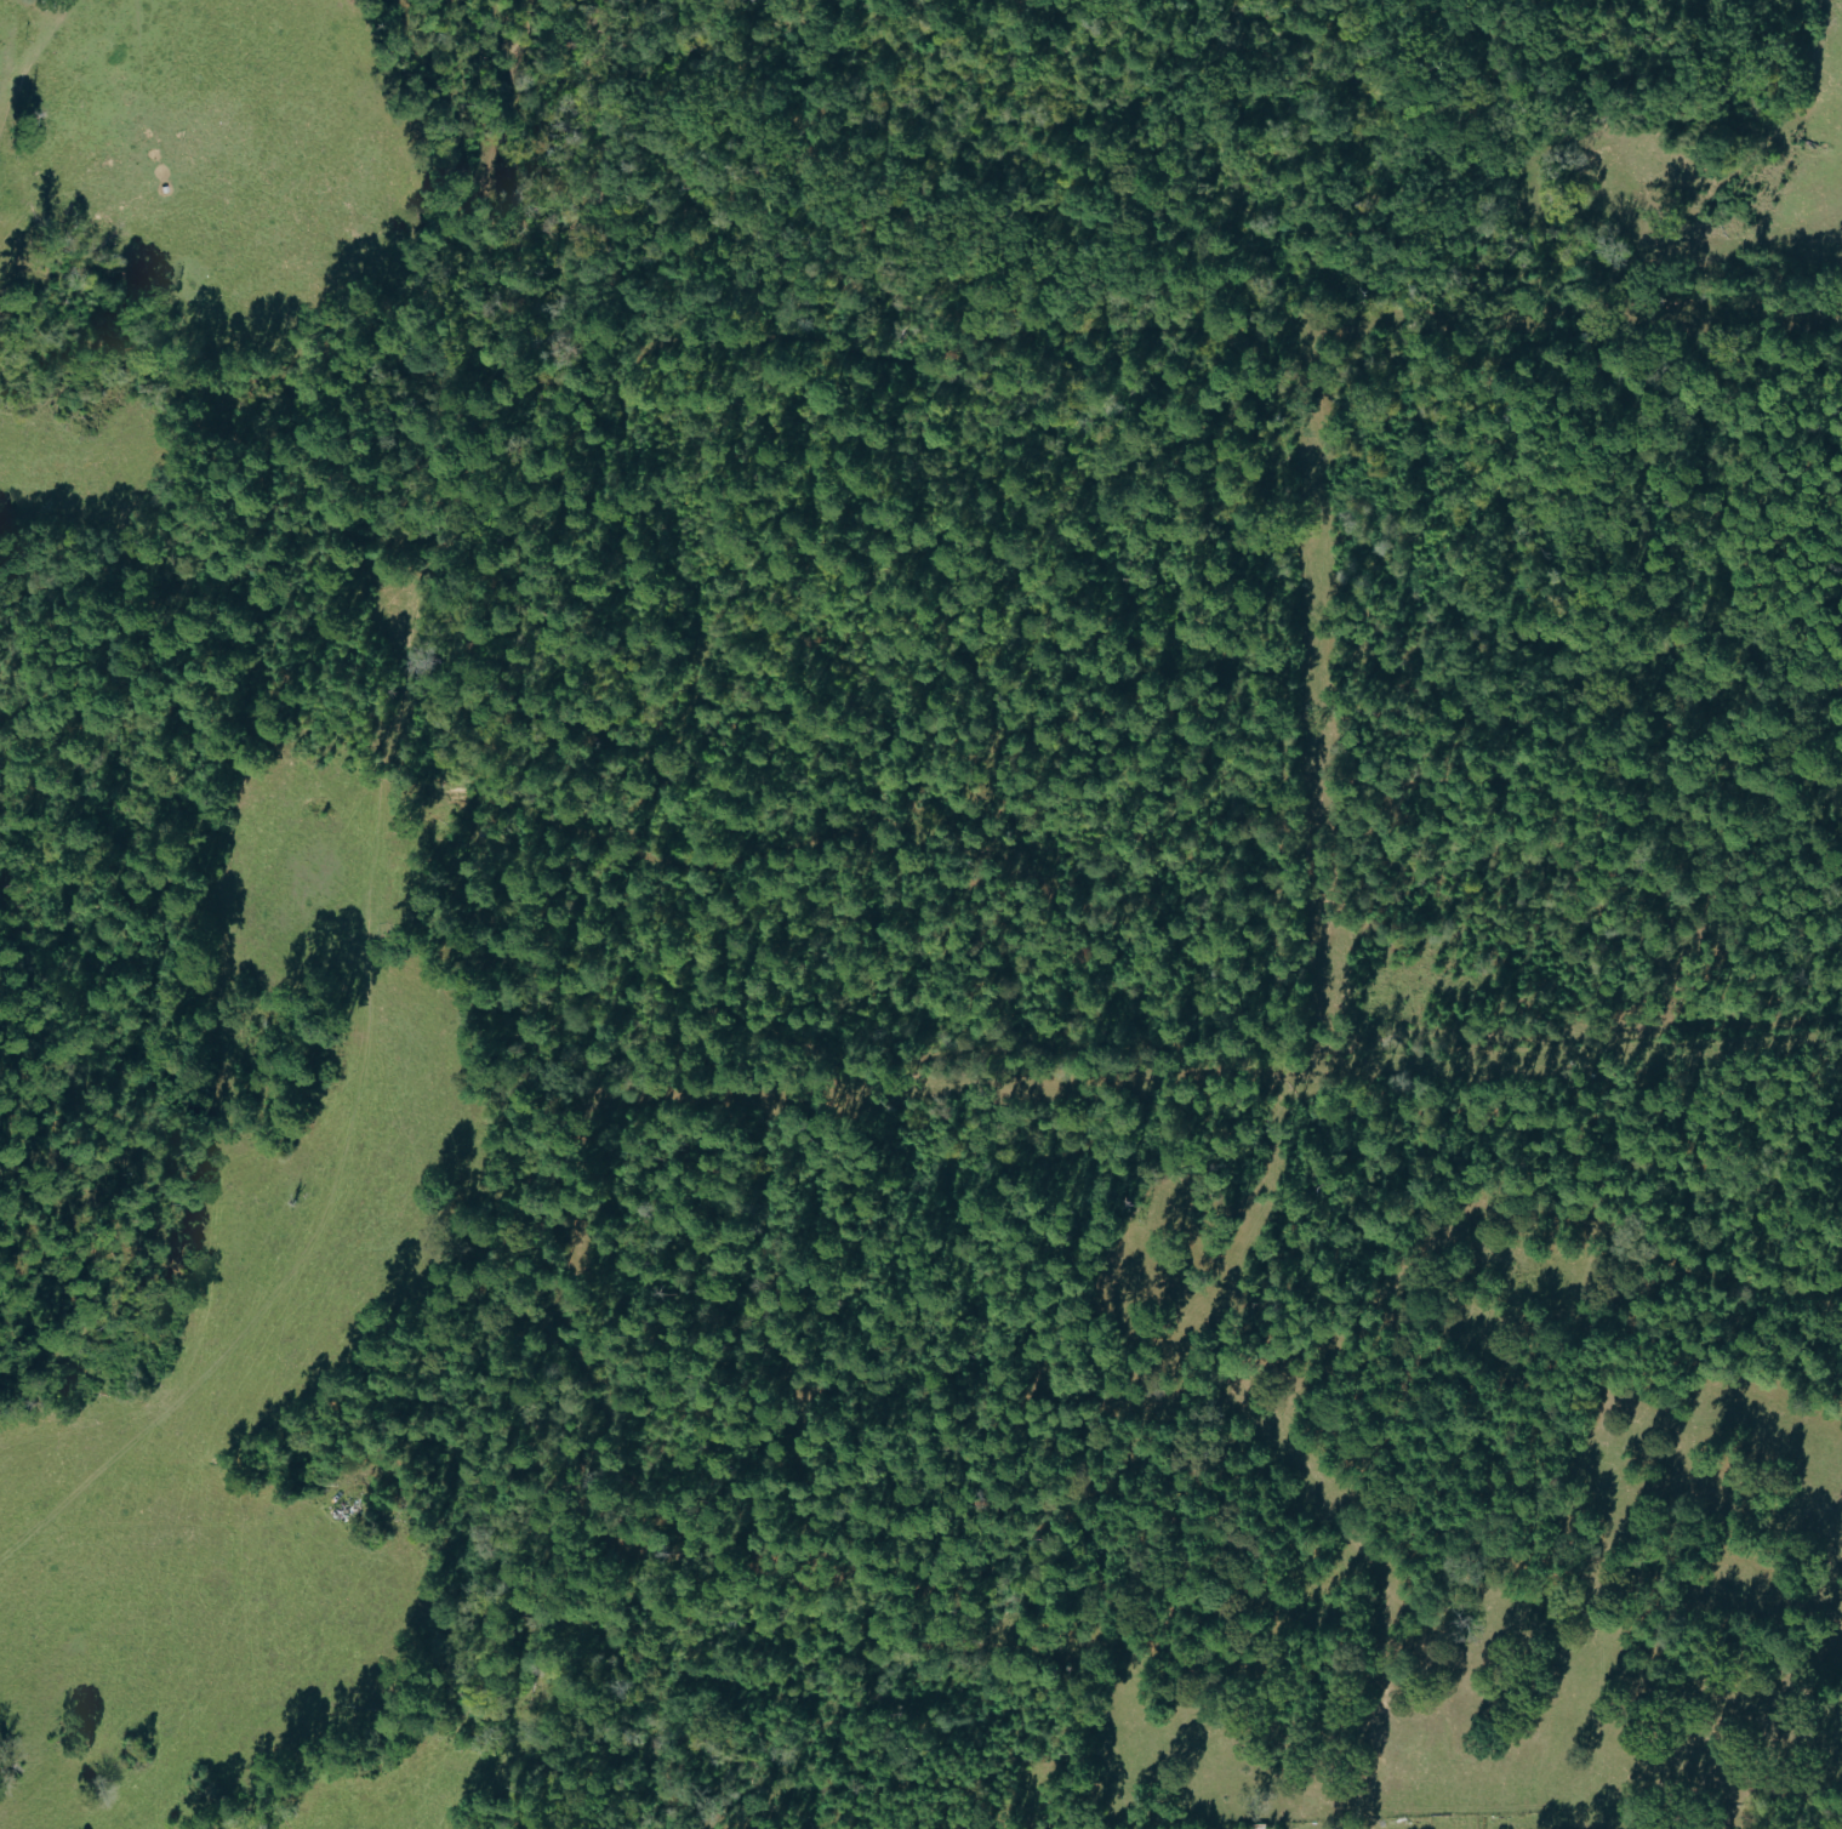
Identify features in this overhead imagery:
road: (4, 57)

